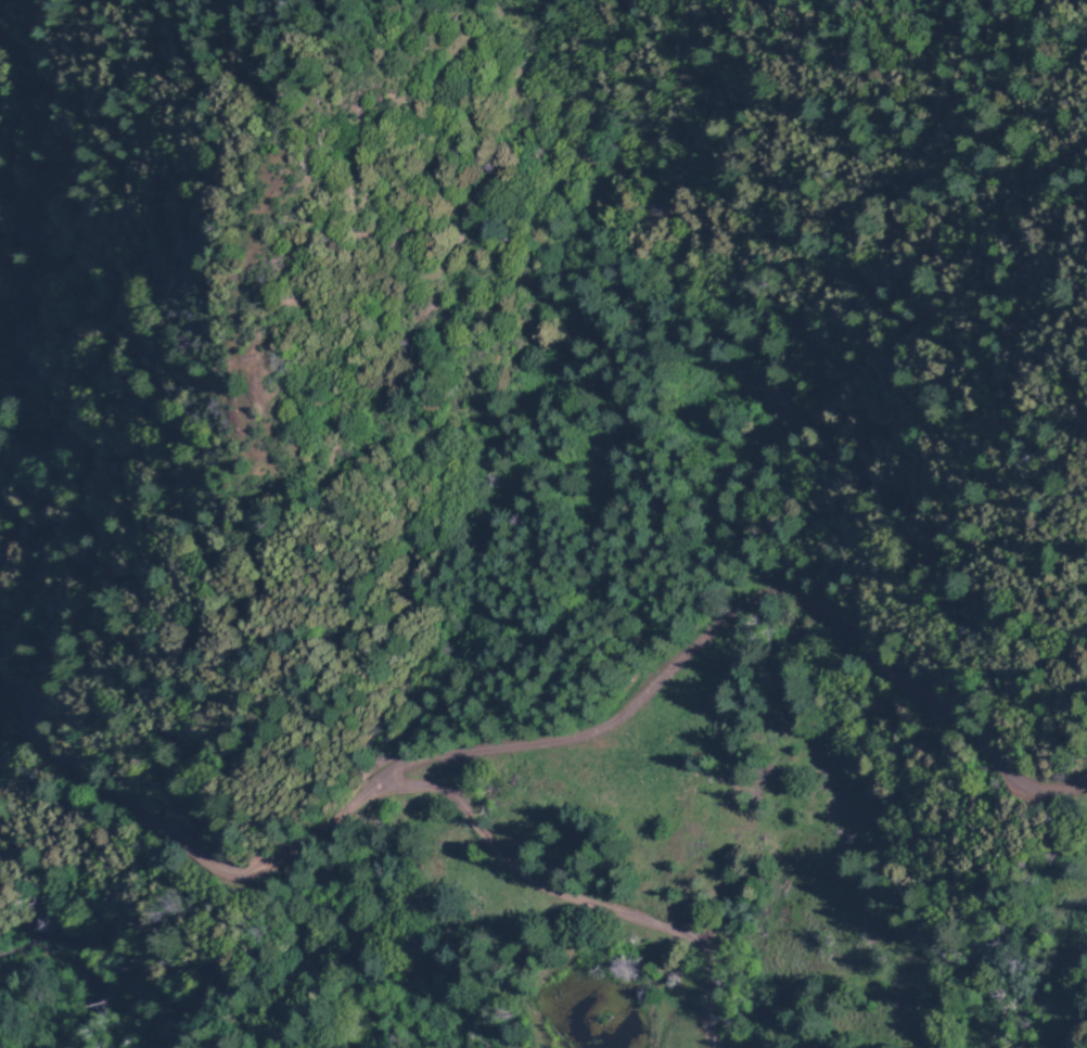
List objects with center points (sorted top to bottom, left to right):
road: (572, 739)
road: (590, 907)

